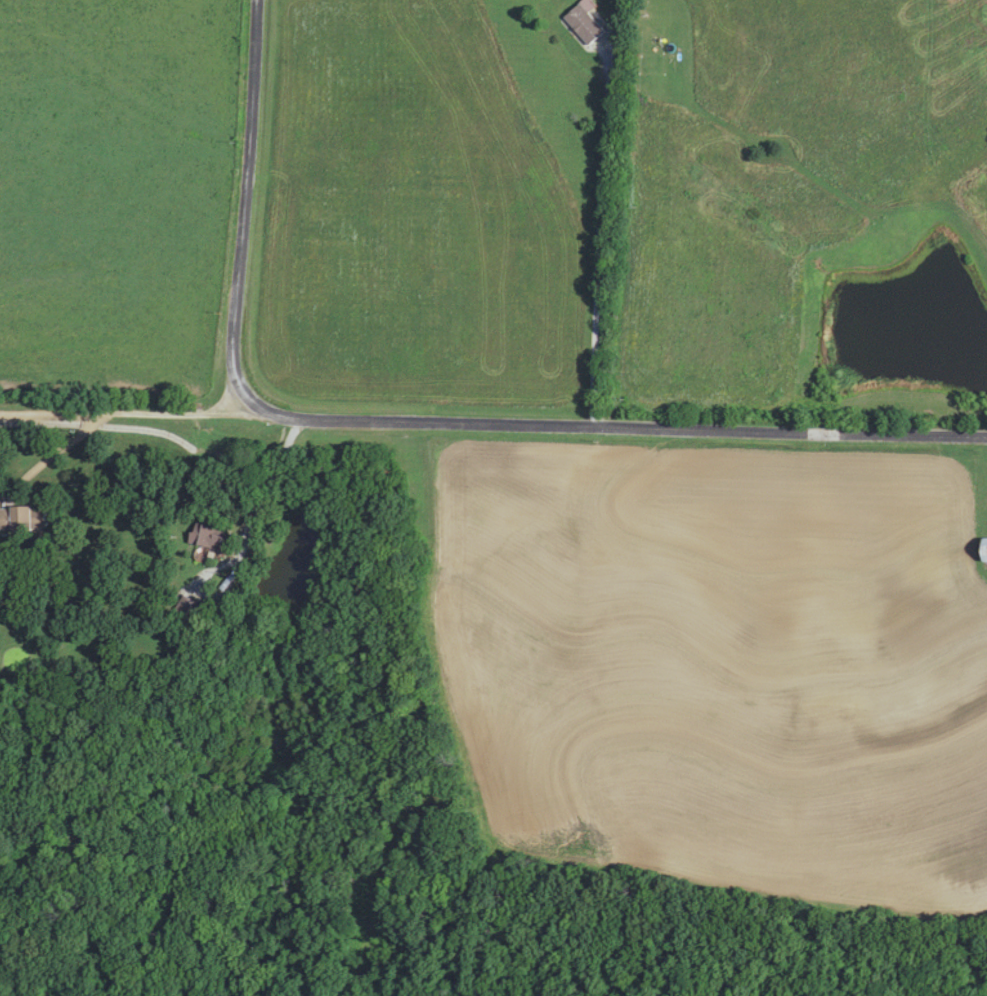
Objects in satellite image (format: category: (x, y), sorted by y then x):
building: (582, 21)
road: (251, 198)
road: (599, 216)
road: (121, 413)
road: (611, 428)
road: (54, 457)
building: (15, 519)
building: (205, 536)
building: (983, 550)
building: (189, 607)

